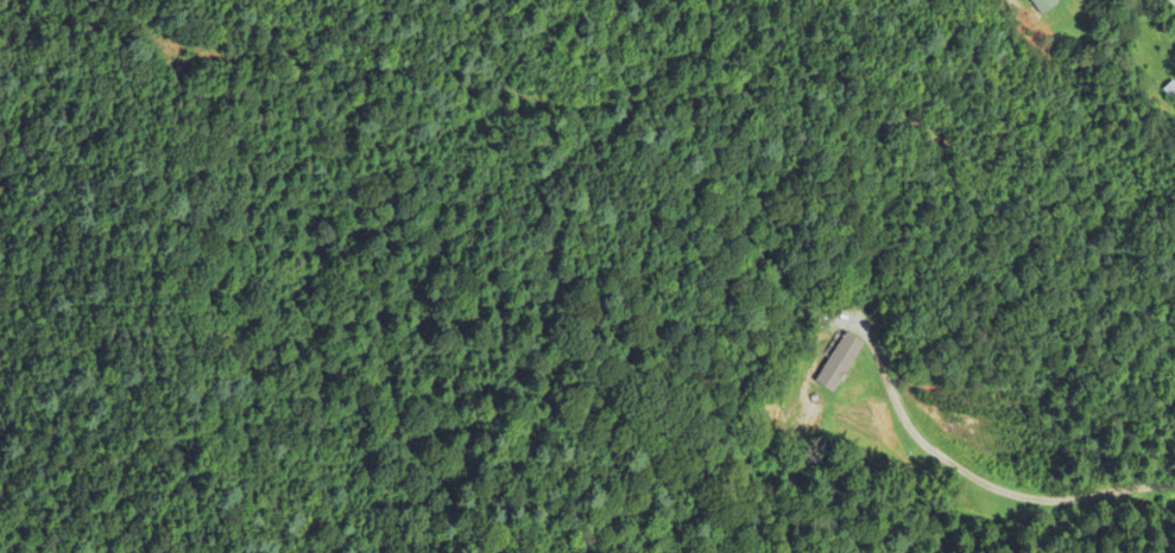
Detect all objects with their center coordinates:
building: (1043, 6)
building: (1170, 93)
building: (836, 366)
road: (975, 478)

